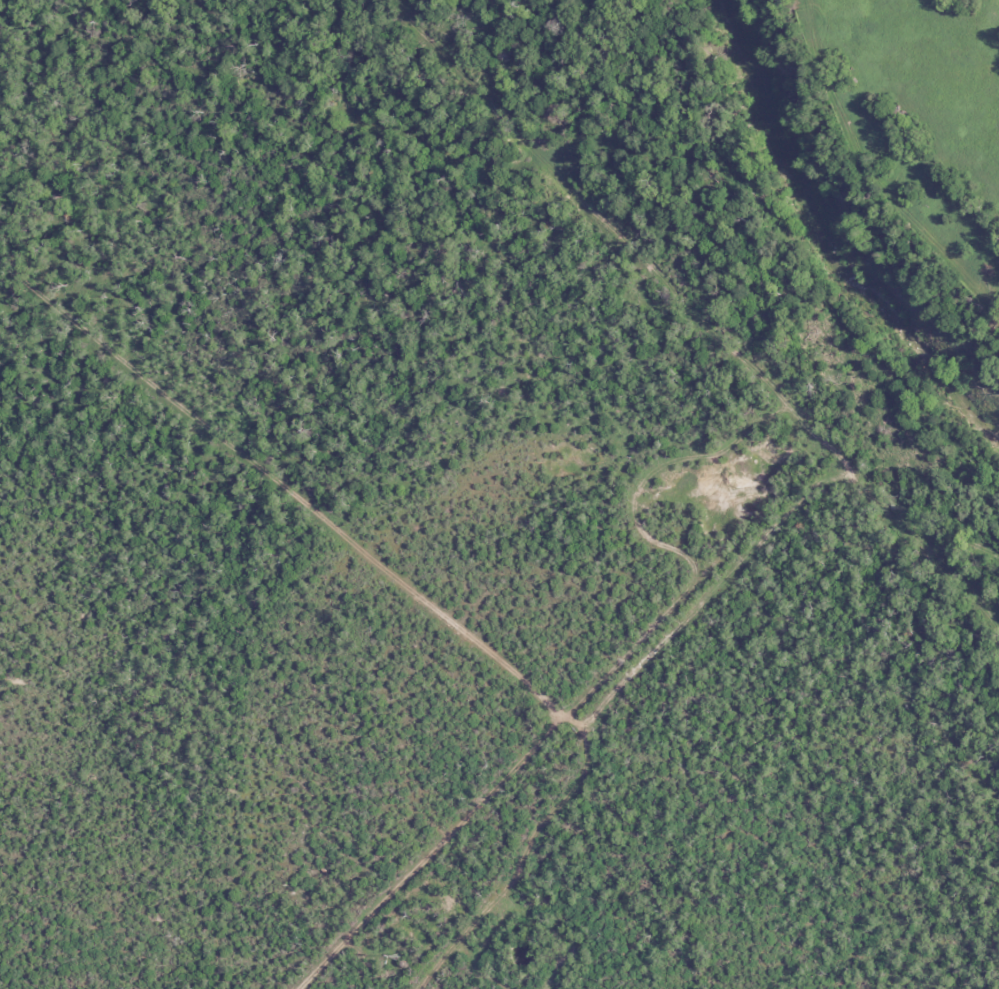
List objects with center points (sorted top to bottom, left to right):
river: (827, 241)
road: (415, 660)

